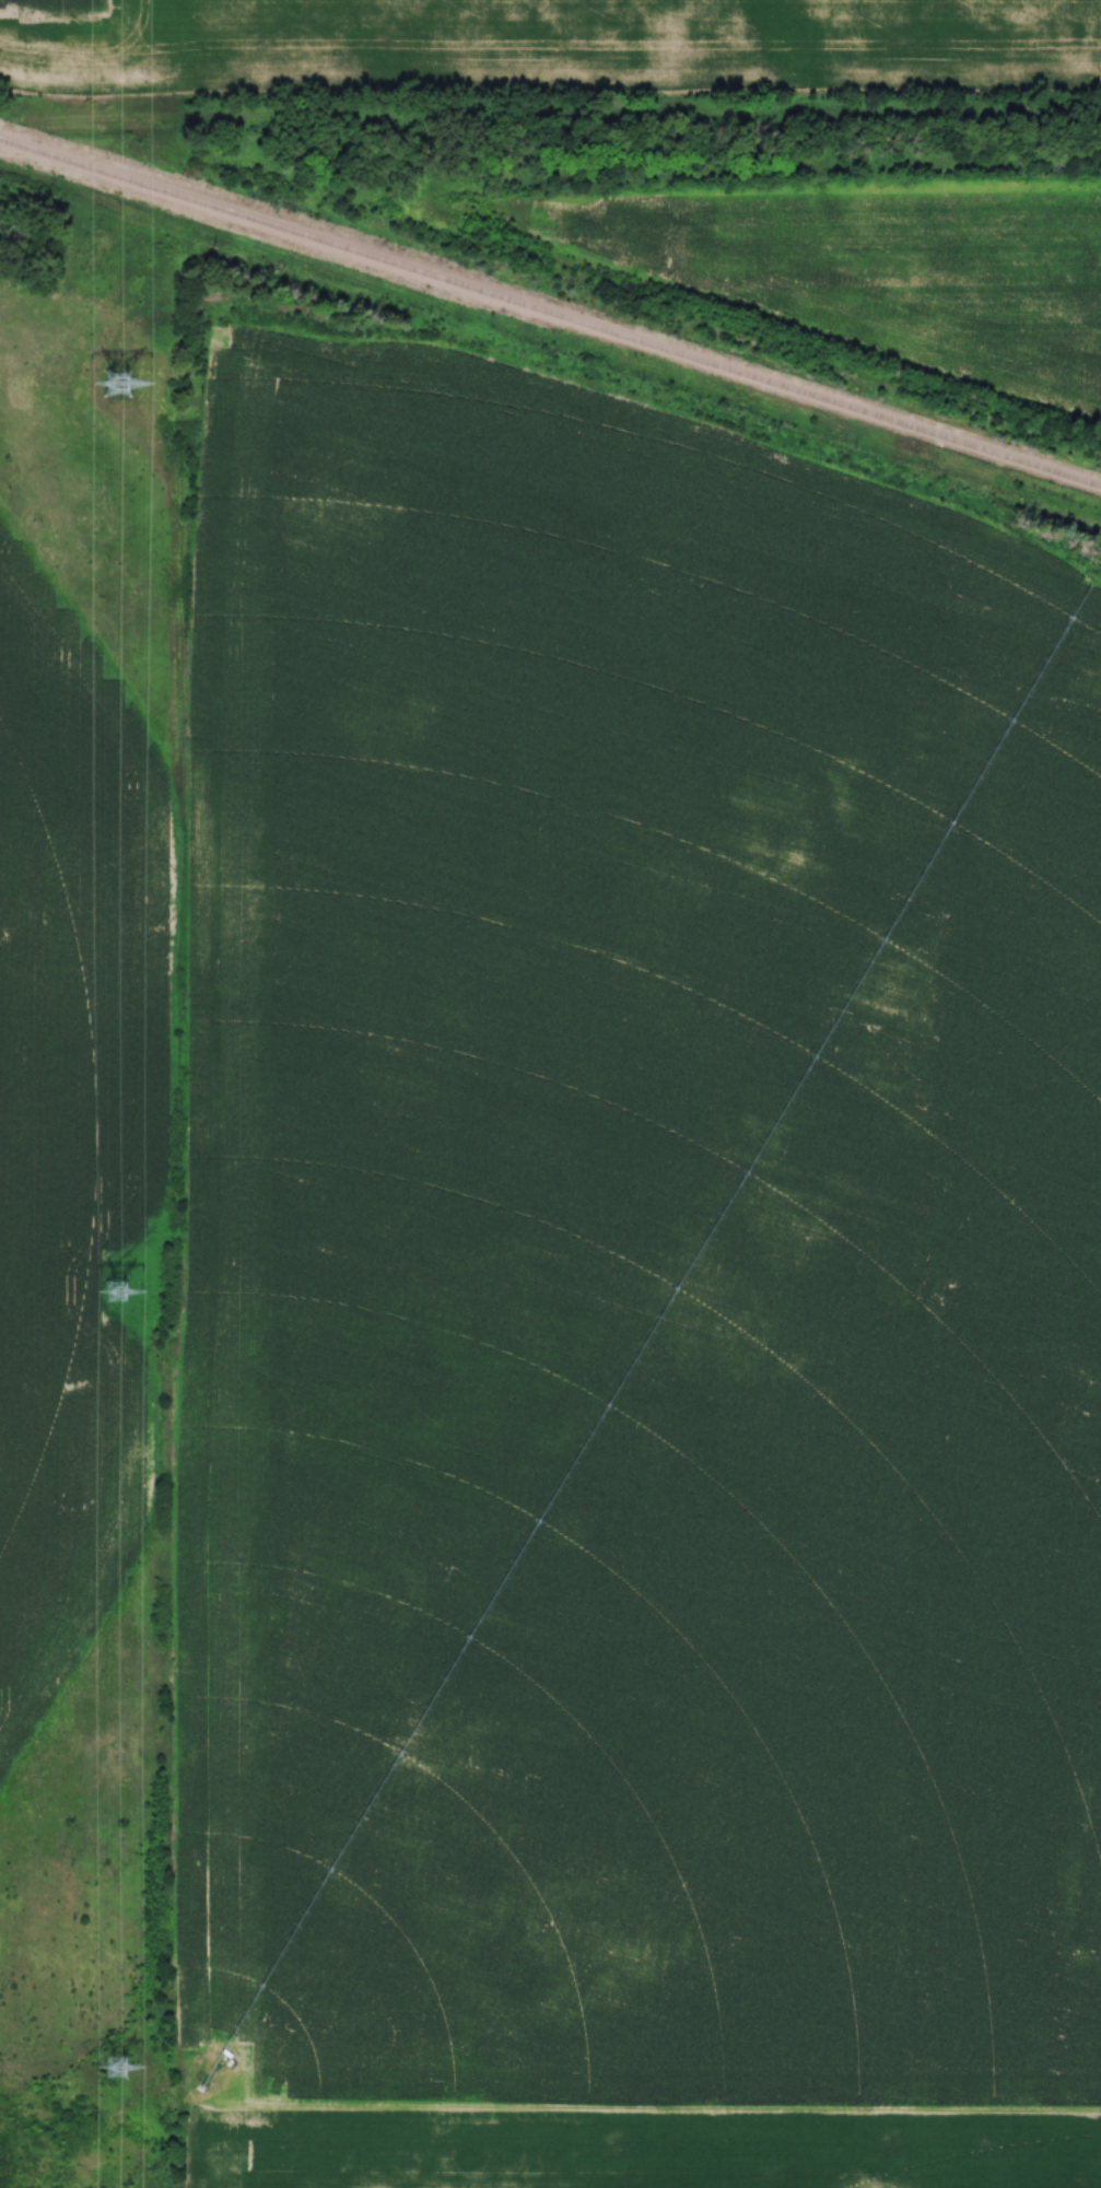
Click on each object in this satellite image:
railway: (550, 305)
power tower: (121, 387)
power tower: (121, 1291)
power tower: (120, 2068)

